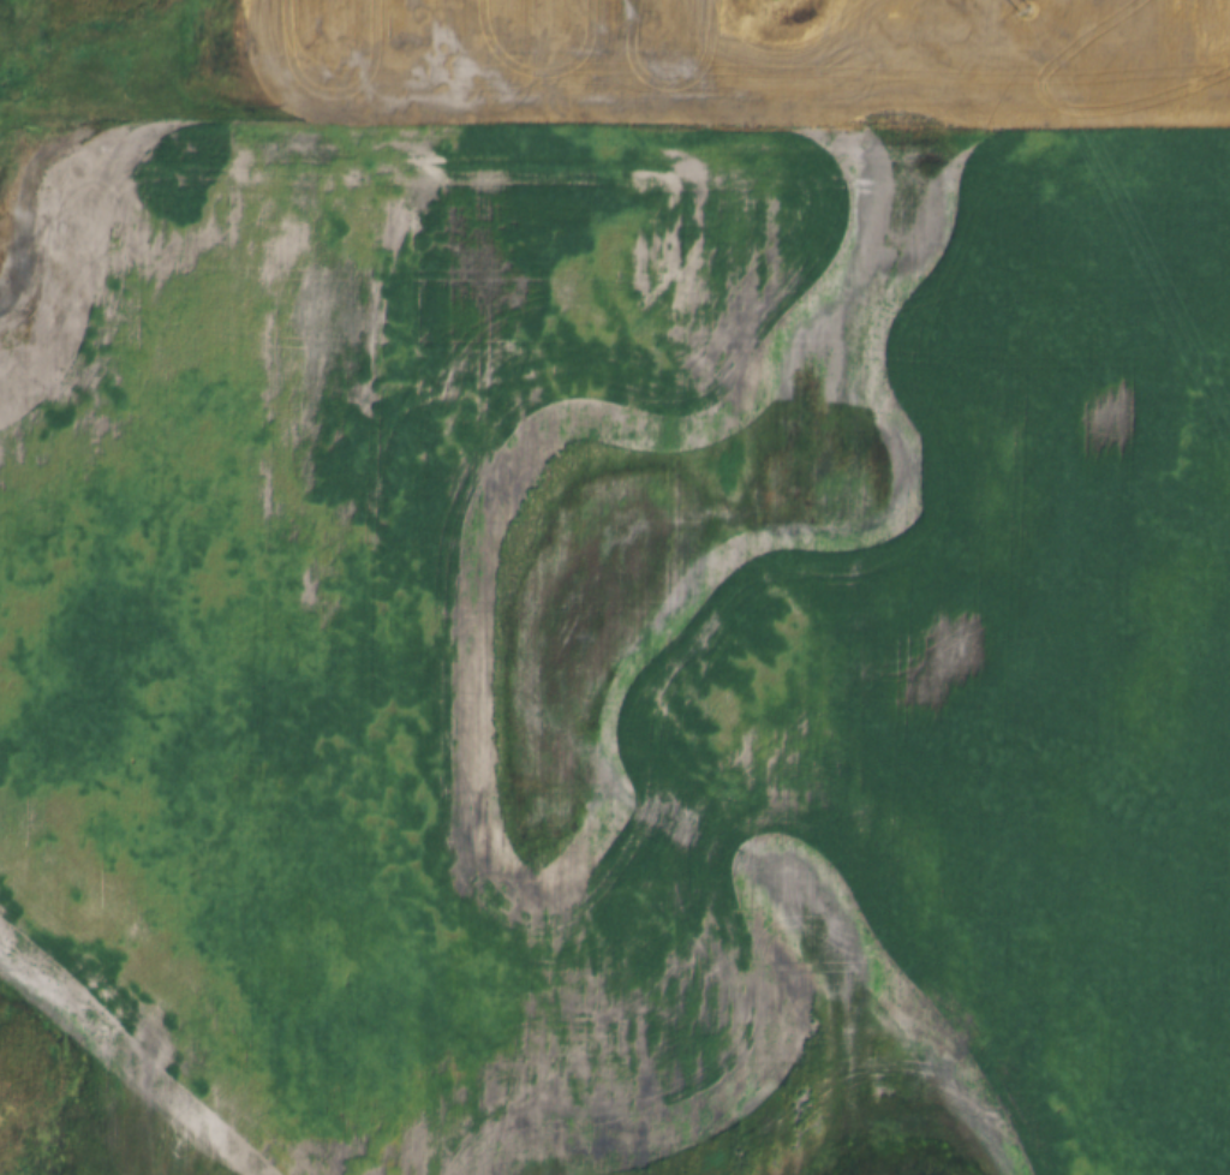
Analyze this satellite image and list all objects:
power tower: (1021, 10)

